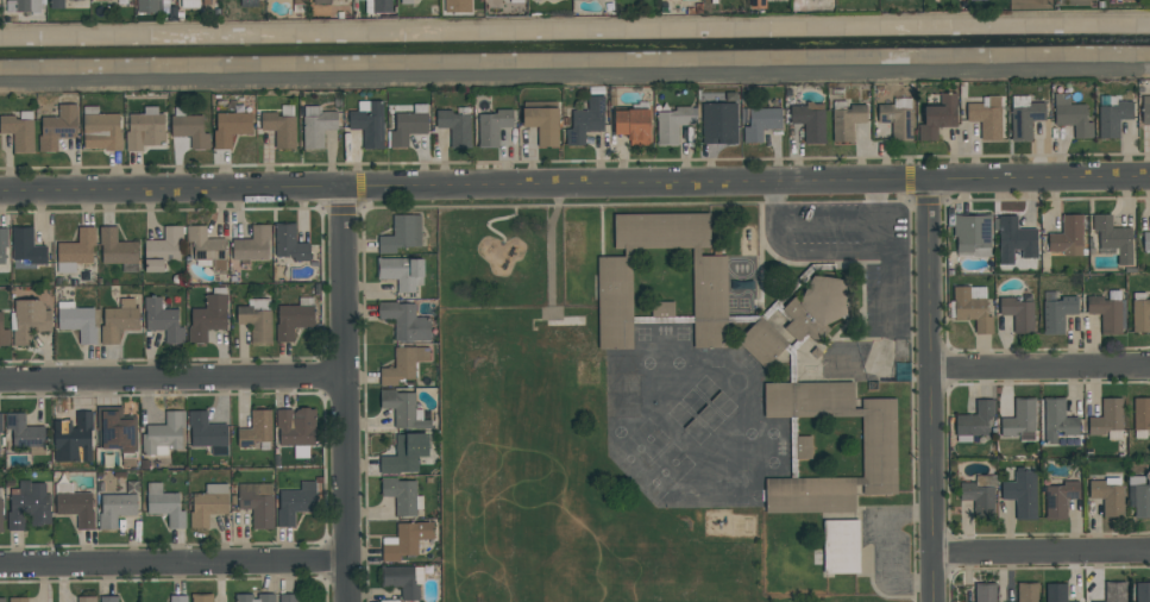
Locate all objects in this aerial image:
building: (102, 0)
building: (299, 1)
building: (321, 1)
building: (189, 2)
building: (57, 4)
building: (149, 5)
building: (756, 5)
building: (27, 6)
building: (382, 6)
building: (457, 6)
road: (574, 31)
building: (1145, 114)
building: (938, 118)
building: (1113, 118)
building: (1074, 119)
building: (586, 120)
building: (1026, 120)
building: (848, 121)
building: (897, 121)
building: (986, 121)
building: (810, 123)
building: (542, 124)
building: (673, 124)
building: (719, 124)
building: (761, 124)
building: (370, 125)
building: (633, 125)
building: (318, 126)
building: (492, 126)
building: (58, 127)
building: (455, 127)
building: (231, 128)
building: (407, 128)
building: (190, 130)
building: (279, 130)
building: (144, 131)
building: (102, 132)
building: (19, 133)
road: (1133, 175)
road: (558, 184)
road: (875, 201)
road: (825, 220)
road: (885, 232)
building: (972, 232)
building: (402, 234)
building: (1068, 237)
building: (1113, 238)
building: (1014, 240)
building: (1145, 243)
building: (2, 244)
building: (289, 244)
building: (252, 245)
building: (26, 247)
building: (77, 247)
building: (207, 247)
building: (117, 249)
building: (163, 250)
road: (841, 252)
park: (492, 253)
building: (401, 272)
building: (615, 302)
building: (816, 308)
building: (662, 309)
building: (972, 309)
building: (1105, 313)
building: (1019, 314)
building: (1057, 314)
building: (1140, 315)
building: (208, 318)
building: (31, 320)
building: (162, 320)
building: (293, 320)
building: (406, 321)
building: (78, 324)
building: (118, 324)
building: (256, 324)
building: (4, 334)
building: (762, 344)
building: (400, 366)
road: (1039, 369)
road: (171, 378)
road: (929, 391)
road: (344, 395)
building: (402, 409)
building: (1142, 414)
building: (1107, 418)
building: (975, 420)
building: (1018, 420)
building: (1057, 421)
building: (0, 424)
building: (296, 426)
building: (256, 429)
building: (114, 431)
building: (206, 431)
building: (24, 432)
building: (165, 433)
building: (73, 439)
building: (803, 447)
building: (878, 447)
building: (406, 454)
building: (1022, 493)
building: (401, 495)
building: (1108, 497)
building: (979, 498)
building: (1058, 498)
building: (1138, 501)
building: (257, 503)
building: (295, 503)
building: (30, 506)
building: (76, 507)
building: (115, 509)
building: (166, 509)
building: (207, 509)
building: (1, 515)
building: (408, 540)
building: (841, 547)
road: (1042, 554)
road: (174, 563)
building: (401, 582)
building: (1116, 591)
building: (1028, 592)
building: (1056, 592)
building: (1143, 592)
building: (985, 594)
building: (254, 597)
building: (177, 598)
building: (201, 598)
building: (288, 598)
building: (2, 600)
building: (18, 600)
building: (87, 600)
building: (108, 600)

